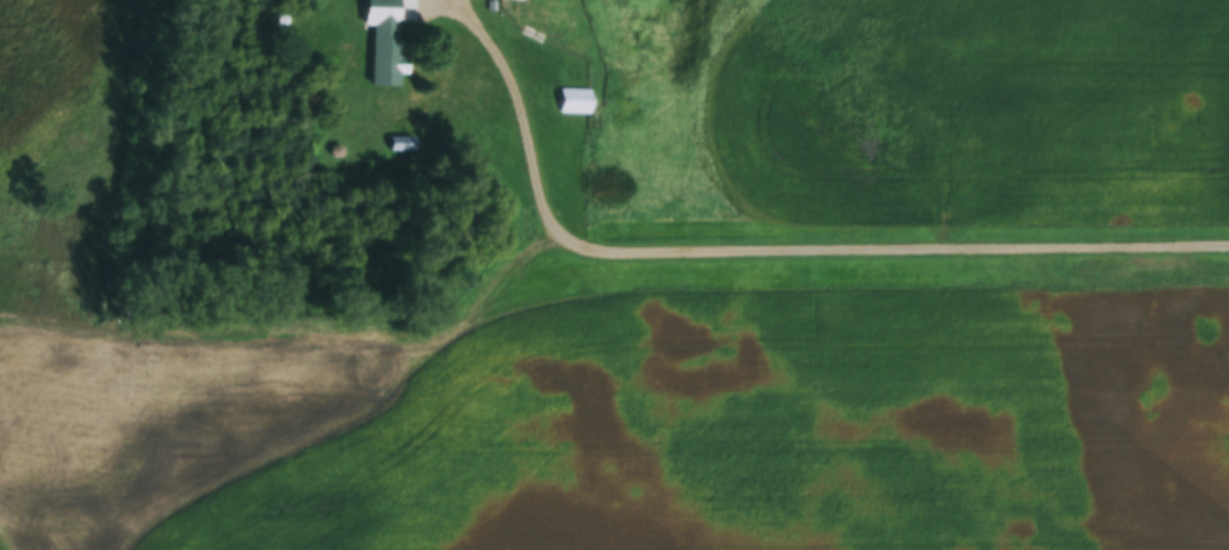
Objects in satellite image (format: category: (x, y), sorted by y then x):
building: (384, 62)
building: (573, 101)
road: (788, 257)

